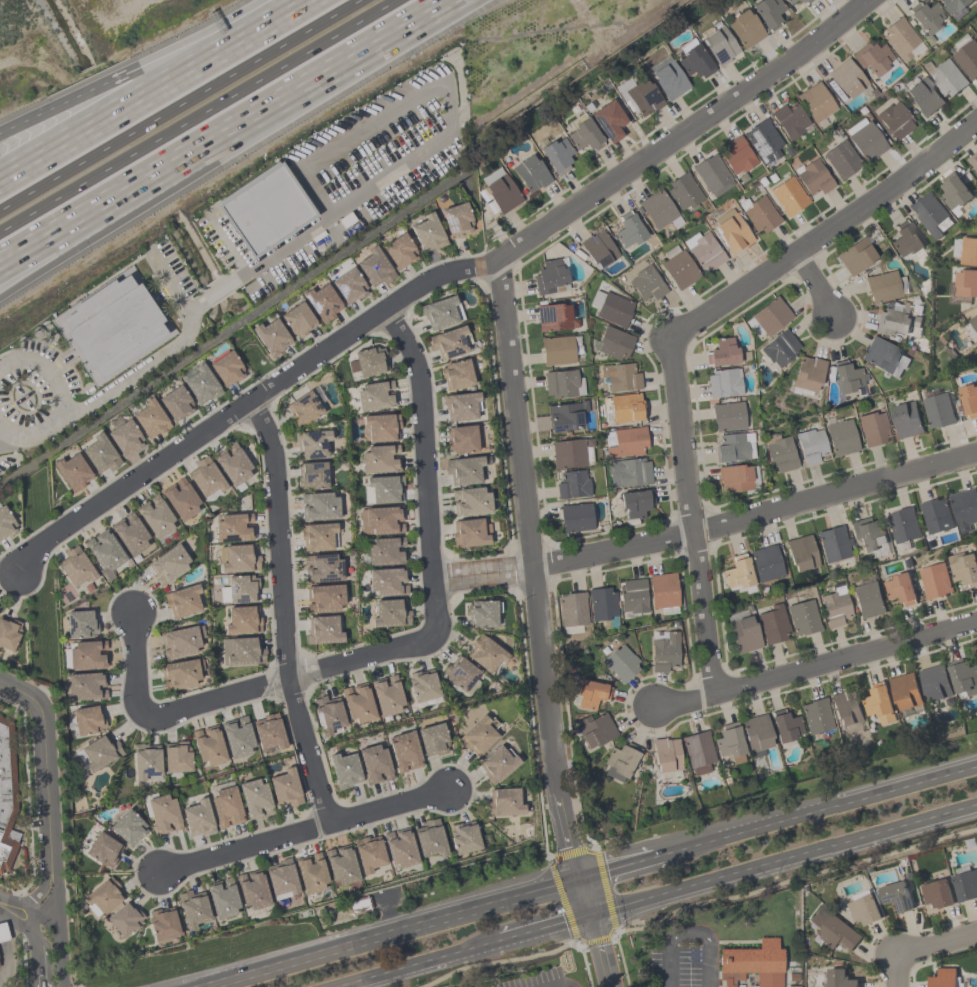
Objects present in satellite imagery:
building: (788, 1)
building: (804, 1)
building: (954, 7)
building: (768, 12)
building: (927, 17)
building: (744, 29)
building: (901, 39)
building: (718, 43)
building: (872, 57)
building: (967, 58)
building: (694, 59)
road: (143, 66)
building: (667, 78)
building: (948, 78)
building: (847, 79)
road: (152, 91)
building: (638, 96)
building: (923, 97)
building: (815, 102)
road: (182, 106)
road: (200, 117)
building: (789, 120)
building: (895, 120)
building: (608, 121)
road: (448, 131)
road: (679, 131)
building: (583, 134)
road: (235, 136)
building: (866, 139)
building: (763, 140)
building: (557, 155)
building: (737, 155)
building: (841, 159)
building: (973, 160)
building: (531, 173)
building: (713, 175)
building: (812, 178)
building: (500, 190)
building: (683, 192)
building: (954, 194)
building: (788, 196)
building: (265, 210)
building: (659, 210)
building: (760, 213)
building: (930, 214)
building: (456, 219)
building: (347, 221)
building: (629, 230)
building: (732, 231)
building: (427, 233)
road: (822, 235)
road: (92, 237)
building: (905, 239)
building: (598, 249)
building: (965, 249)
building: (704, 250)
building: (399, 251)
building: (855, 256)
building: (374, 268)
building: (678, 268)
building: (549, 277)
road: (168, 280)
building: (966, 282)
building: (647, 283)
building: (348, 286)
building: (882, 286)
road: (216, 291)
road: (811, 295)
building: (322, 302)
road: (196, 305)
building: (611, 308)
building: (441, 312)
building: (771, 316)
building: (553, 317)
building: (895, 319)
building: (297, 320)
building: (974, 321)
building: (112, 325)
building: (269, 335)
building: (449, 342)
building: (614, 343)
building: (780, 348)
building: (557, 350)
building: (722, 352)
building: (884, 357)
building: (367, 362)
building: (226, 368)
road: (136, 372)
building: (456, 374)
building: (807, 375)
building: (620, 377)
building: (847, 377)
building: (200, 383)
building: (724, 383)
building: (562, 384)
building: (375, 396)
road: (60, 398)
road: (254, 398)
building: (969, 399)
building: (175, 403)
building: (461, 406)
building: (303, 408)
building: (623, 408)
building: (937, 410)
building: (566, 416)
building: (728, 416)
building: (906, 418)
building: (150, 419)
building: (381, 427)
road: (1, 429)
building: (873, 429)
building: (124, 437)
building: (841, 438)
building: (461, 439)
building: (627, 442)
building: (311, 444)
building: (811, 446)
building: (734, 447)
building: (780, 453)
building: (99, 454)
building: (570, 454)
building: (380, 459)
building: (232, 464)
building: (463, 470)
building: (72, 472)
building: (628, 472)
building: (311, 475)
building: (205, 477)
building: (734, 478)
building: (572, 485)
building: (382, 489)
building: (180, 499)
building: (470, 501)
building: (636, 502)
building: (318, 506)
building: (964, 507)
road: (689, 514)
road: (758, 514)
building: (935, 515)
building: (155, 517)
building: (575, 517)
building: (380, 520)
building: (5, 523)
building: (903, 526)
building: (233, 527)
building: (469, 532)
building: (129, 534)
building: (867, 534)
building: (318, 536)
building: (832, 543)
building: (104, 550)
building: (384, 551)
building: (802, 553)
building: (238, 558)
building: (765, 563)
building: (168, 564)
building: (75, 566)
building: (322, 568)
building: (963, 568)
building: (738, 572)
road: (483, 573)
building: (934, 580)
building: (387, 581)
building: (900, 588)
building: (239, 589)
road: (539, 591)
building: (663, 592)
building: (633, 595)
building: (324, 597)
building: (868, 599)
building: (182, 600)
building: (602, 604)
building: (834, 606)
building: (572, 612)
building: (389, 613)
building: (482, 613)
road: (280, 615)
building: (803, 617)
building: (242, 620)
building: (80, 624)
building: (773, 624)
building: (322, 630)
building: (8, 633)
building: (745, 634)
building: (180, 641)
road: (398, 645)
building: (663, 650)
building: (242, 651)
building: (86, 654)
building: (485, 654)
building: (620, 663)
road: (809, 664)
building: (180, 673)
building: (461, 676)
building: (964, 677)
building: (934, 682)
building: (86, 685)
building: (422, 686)
building: (905, 690)
building: (589, 693)
building: (386, 695)
building: (879, 702)
building: (358, 703)
building: (845, 708)
building: (328, 715)
building: (816, 716)
building: (87, 719)
building: (785, 726)
building: (594, 730)
building: (268, 732)
building: (756, 733)
building: (237, 737)
building: (432, 739)
building: (729, 741)
building: (208, 745)
building: (404, 751)
building: (100, 752)
building: (698, 752)
building: (177, 757)
building: (666, 757)
building: (620, 761)
building: (146, 763)
building: (374, 764)
building: (9, 769)
road: (44, 769)
building: (344, 770)
building: (284, 788)
building: (254, 798)
building: (504, 803)
building: (226, 807)
road: (823, 810)
building: (162, 814)
building: (197, 818)
building: (128, 827)
road: (306, 831)
building: (464, 837)
building: (430, 838)
building: (400, 848)
building: (103, 849)
building: (2, 854)
building: (369, 855)
road: (783, 861)
building: (341, 864)
road: (623, 869)
building: (311, 873)
building: (281, 879)
building: (965, 884)
building: (252, 889)
building: (937, 893)
building: (896, 895)
building: (102, 897)
building: (222, 898)
road: (55, 904)
building: (192, 908)
building: (864, 909)
road: (32, 913)
building: (124, 919)
road: (13, 920)
building: (163, 923)
road: (27, 926)
road: (690, 929)
building: (832, 929)
road: (544, 931)
building: (3, 933)
road: (390, 933)
road: (938, 947)
road: (600, 951)
road: (60, 962)
building: (751, 964)
road: (420, 965)
building: (0, 969)
road: (898, 973)
building: (943, 977)
building: (839, 978)
building: (746, 979)
road: (559, 983)
road: (208, 986)

